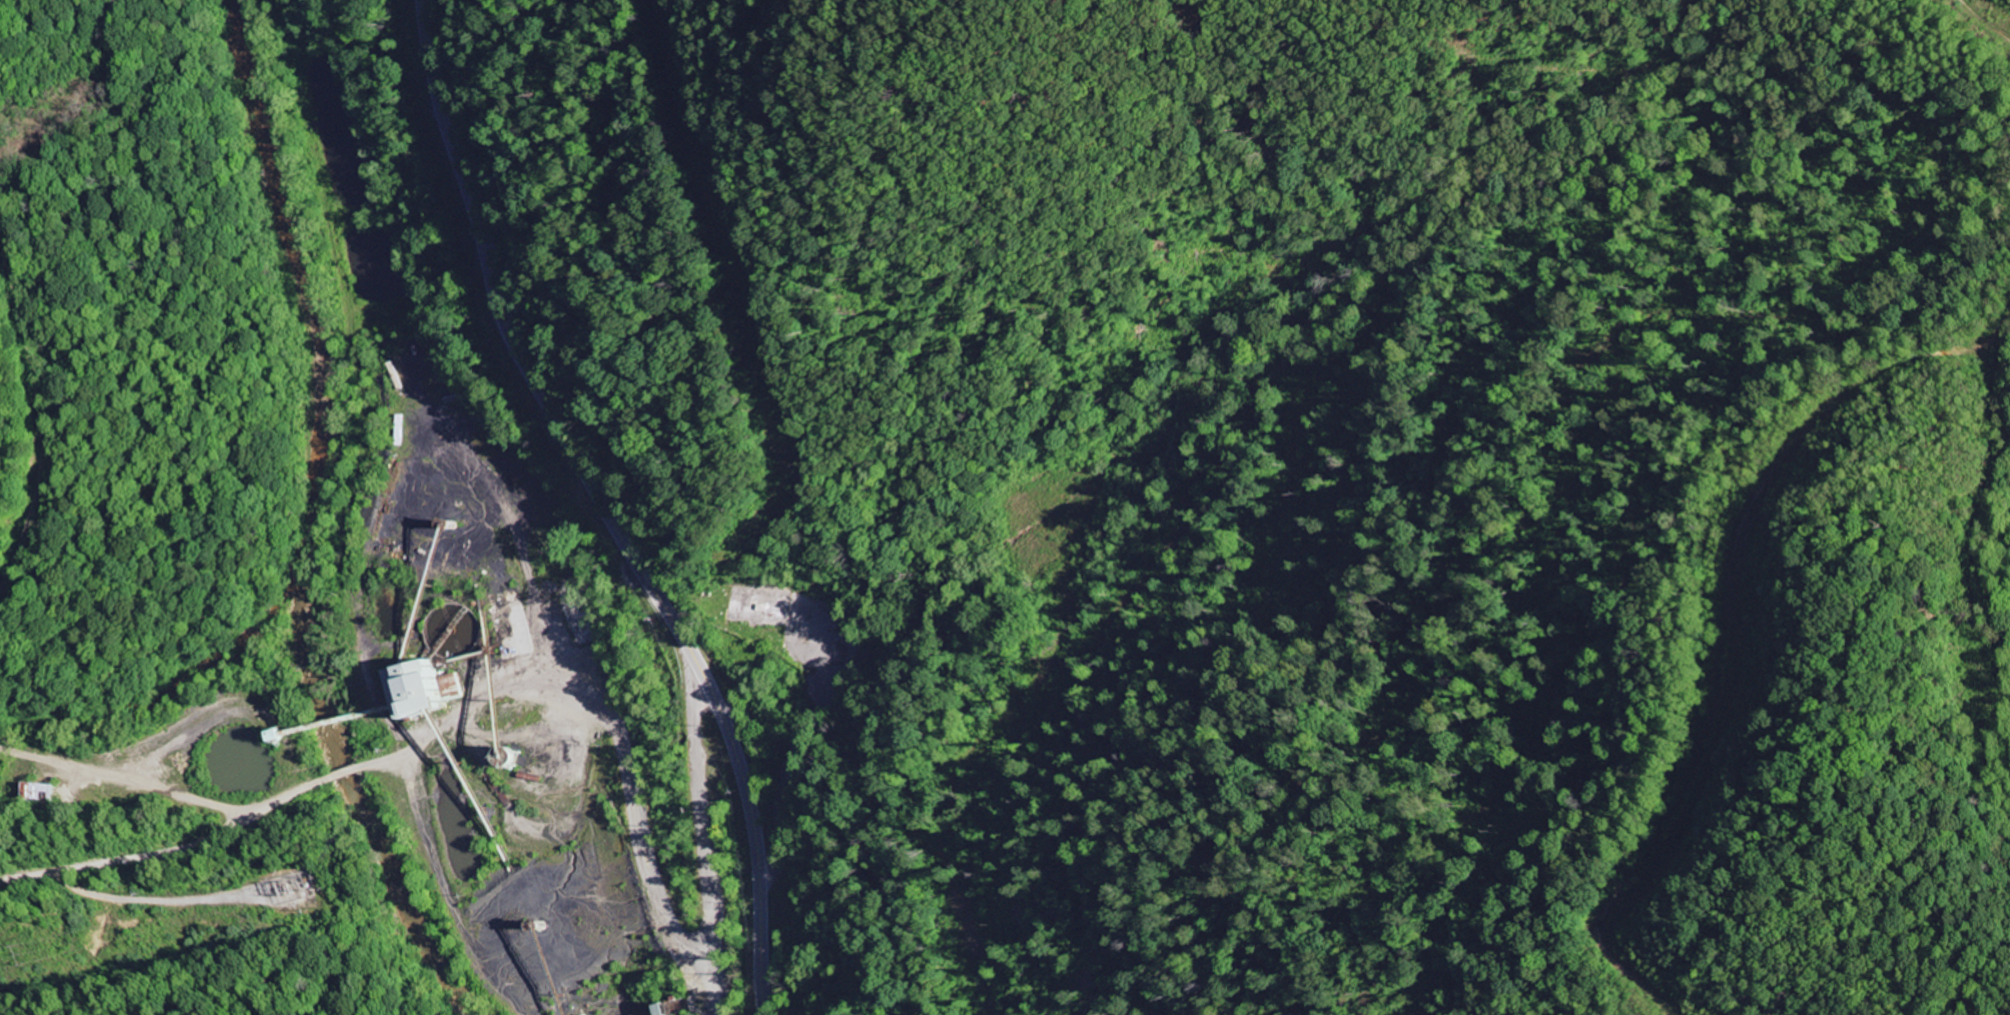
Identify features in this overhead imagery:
road: (608, 507)
building: (418, 688)
building: (43, 792)
road: (574, 807)
road: (199, 836)
power substation: (299, 888)
power tower: (287, 892)
power tower: (20, 954)

